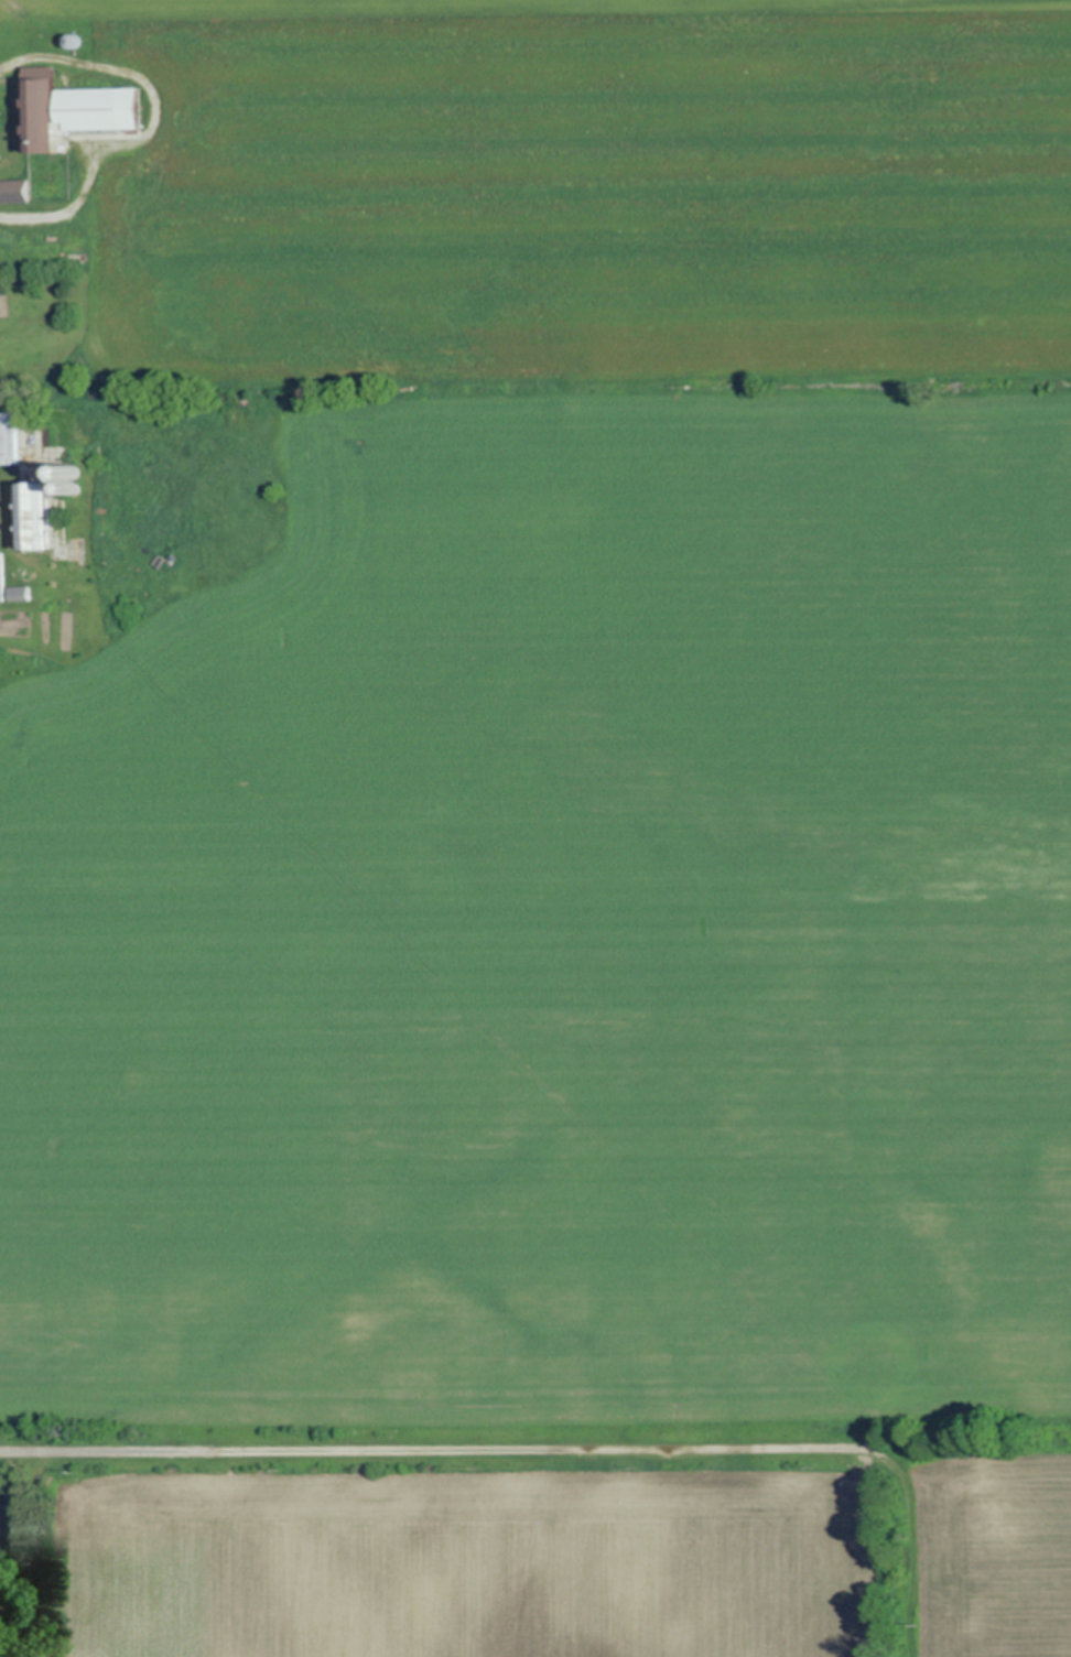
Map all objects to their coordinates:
building: (42, 105)
building: (101, 107)
building: (14, 191)
building: (9, 437)
building: (35, 515)
building: (2, 576)
building: (20, 593)
road: (416, 1449)

